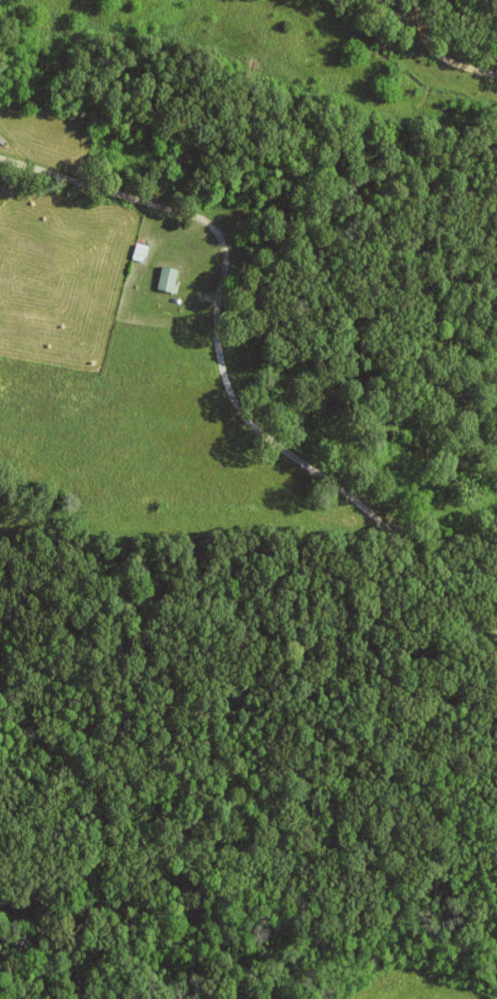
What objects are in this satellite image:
road: (439, 54)
building: (170, 280)
road: (231, 374)

